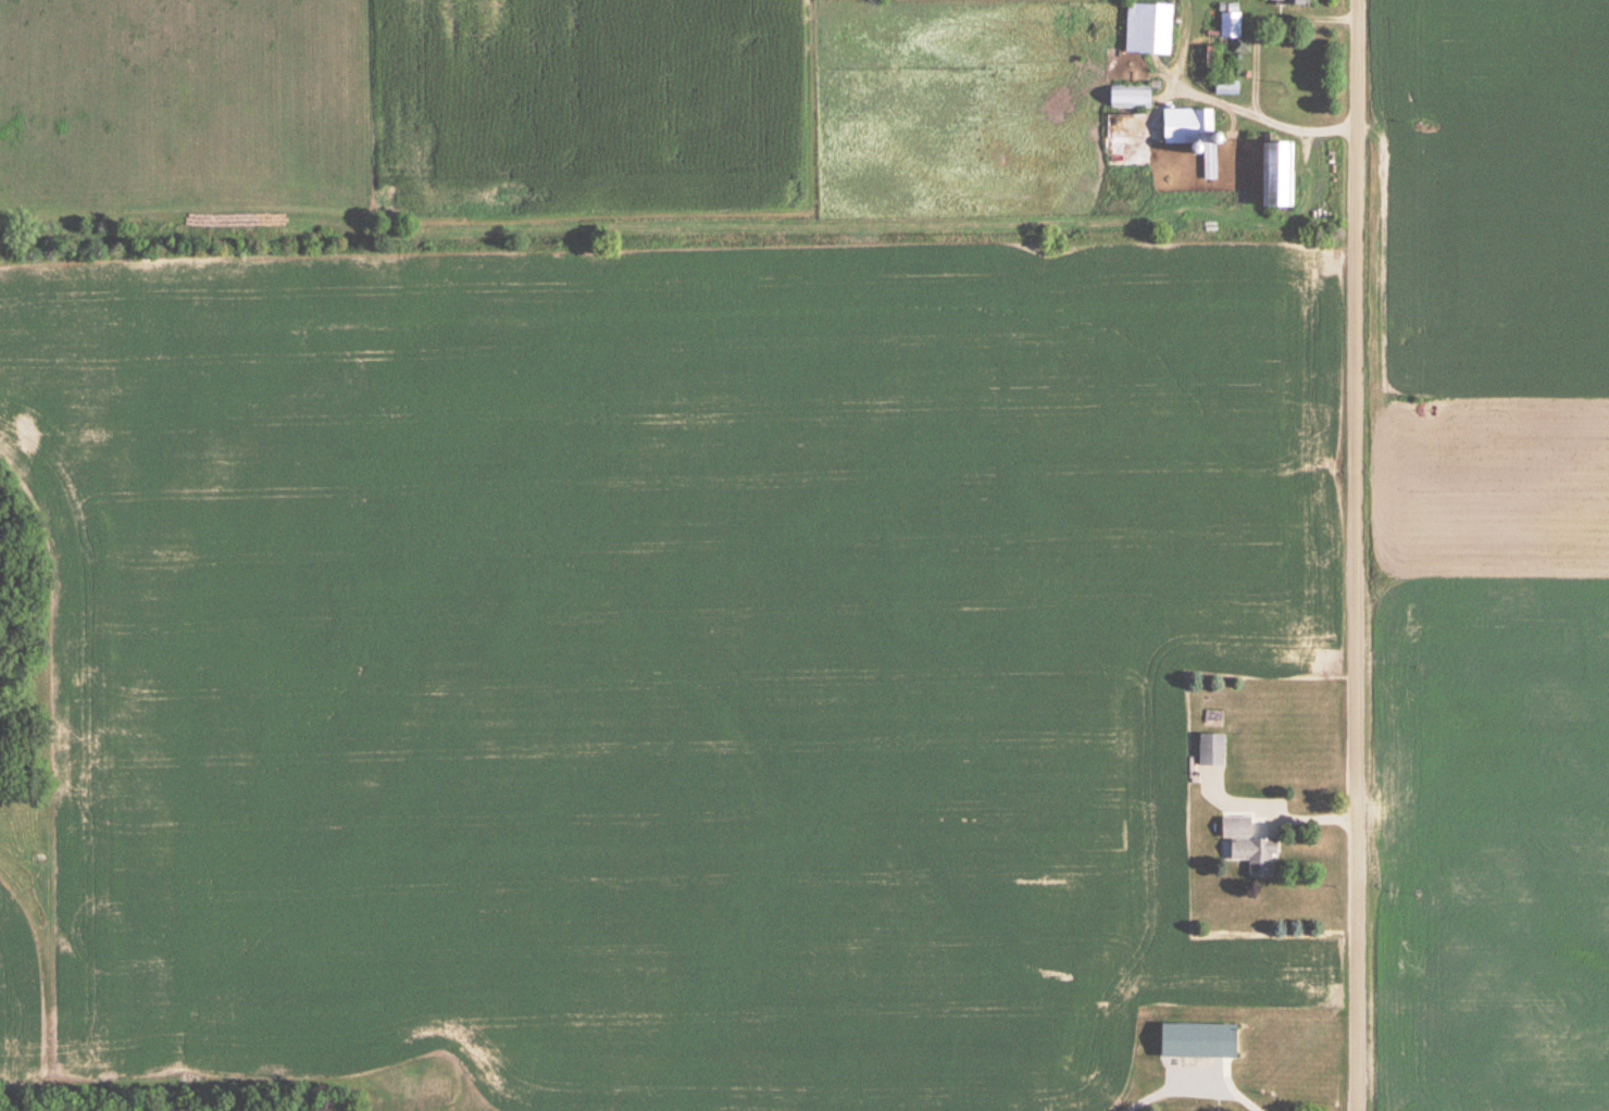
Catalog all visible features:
building: (1289, 2)
road: (1260, 18)
building: (1231, 25)
building: (1149, 29)
building: (1227, 88)
building: (1131, 98)
road: (1231, 108)
building: (1194, 134)
building: (1279, 176)
road: (1355, 554)
building: (1212, 751)
road: (1276, 801)
building: (1249, 848)
building: (1200, 1041)
road: (1243, 1089)

